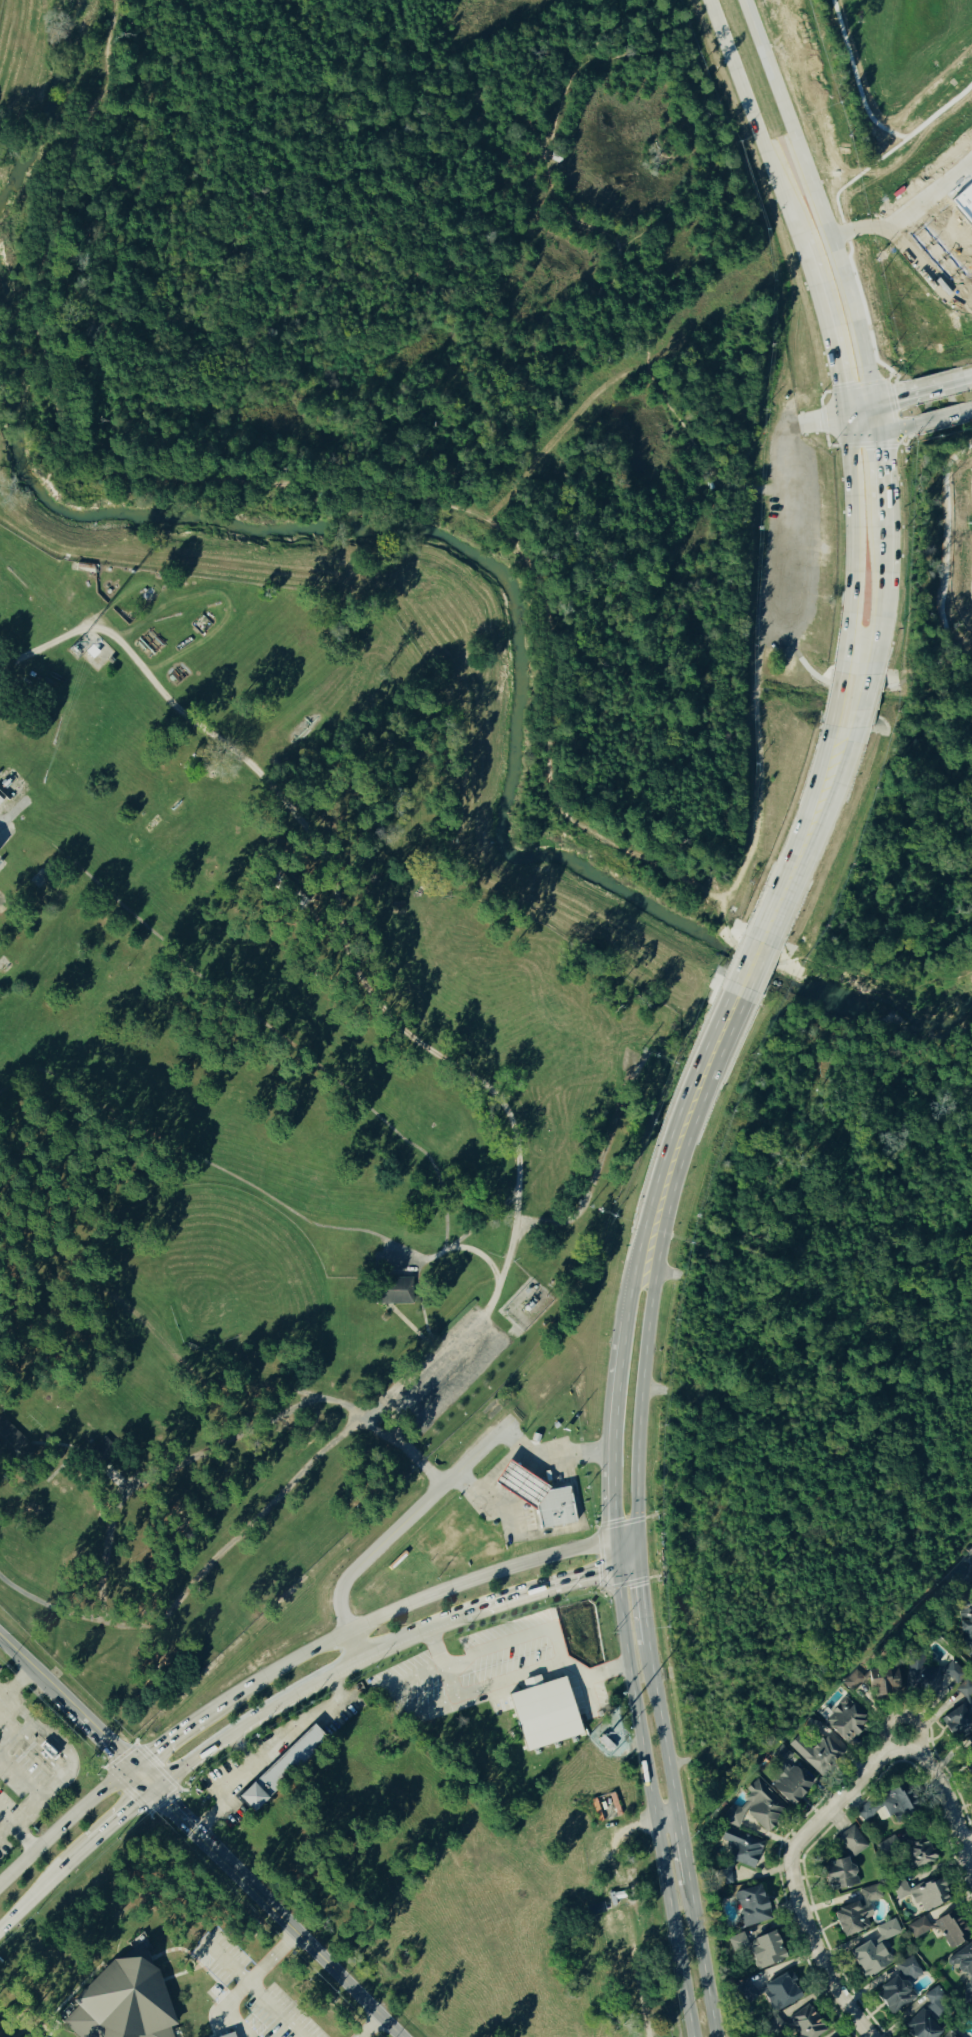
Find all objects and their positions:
road: (756, 121)
road: (817, 198)
road: (905, 252)
park: (465, 319)
road: (831, 328)
road: (923, 387)
road: (792, 400)
traffic signals: (876, 401)
road: (862, 409)
road: (877, 416)
traffic signals: (849, 418)
road: (823, 420)
road: (910, 430)
traffic signals: (879, 432)
road: (710, 470)
road: (881, 472)
road: (790, 489)
river: (415, 525)
parking lot: (789, 537)
road: (856, 546)
road: (884, 550)
road: (882, 611)
road: (877, 655)
road: (839, 701)
road: (867, 702)
road: (800, 835)
road: (817, 838)
road: (747, 961)
road: (762, 969)
road: (391, 1019)
road: (659, 1179)
road: (661, 1254)
building: (392, 1292)
road: (614, 1421)
road: (551, 1459)
road: (488, 1475)
road: (614, 1497)
building: (537, 1498)
road: (395, 1528)
road: (545, 1529)
traffic signals: (638, 1533)
road: (626, 1535)
traffic signals: (615, 1538)
road: (638, 1547)
traffic signals: (639, 1561)
road: (627, 1564)
traffic signals: (616, 1567)
building: (971, 1580)
road: (103, 1595)
road: (643, 1596)
road: (495, 1602)
road: (397, 1607)
road: (52, 1608)
building: (966, 1629)
road: (500, 1642)
road: (442, 1661)
parking lot: (472, 1668)
road: (594, 1672)
building: (900, 1679)
road: (15, 1680)
road: (589, 1689)
building: (966, 1690)
parking lot: (586, 1694)
building: (545, 1710)
road: (263, 1715)
building: (846, 1720)
road: (662, 1723)
building: (957, 1724)
road: (885, 1729)
road: (918, 1731)
road: (163, 1742)
road: (244, 1750)
road: (272, 1754)
building: (820, 1755)
traffic signals: (129, 1765)
building: (281, 1770)
building: (792, 1786)
traffic signals: (151, 1787)
road: (650, 1787)
road: (843, 1796)
road: (948, 1804)
building: (885, 1806)
building: (756, 1809)
road: (121, 1813)
road: (667, 1817)
road: (63, 1824)
road: (18, 1832)
road: (200, 1836)
road: (967, 1845)
road: (683, 1846)
building: (740, 1848)
building: (915, 1850)
building: (843, 1862)
road: (45, 1883)
building: (921, 1894)
building: (751, 1907)
building: (857, 1913)
building: (950, 1930)
road: (813, 1949)
building: (759, 1950)
road: (702, 1957)
building: (869, 1960)
road: (229, 1961)
building: (962, 1963)
road: (253, 1984)
building: (899, 1987)
building: (780, 1991)
building: (120, 1999)
road: (227, 2009)
building: (929, 2016)
building: (806, 2023)
road: (370, 2026)
building: (222, 2034)
building: (1, 2035)

